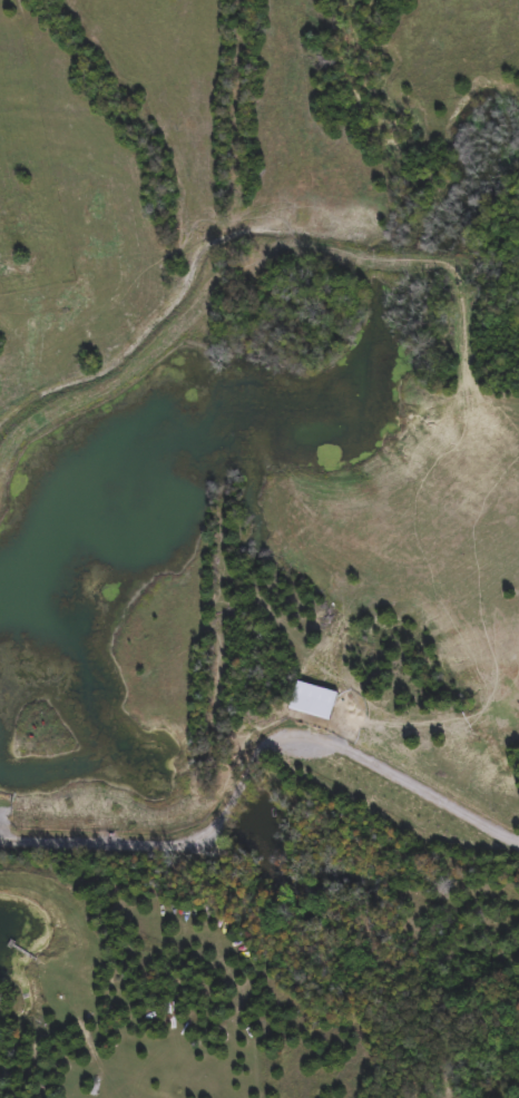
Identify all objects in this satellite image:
road: (251, 761)

